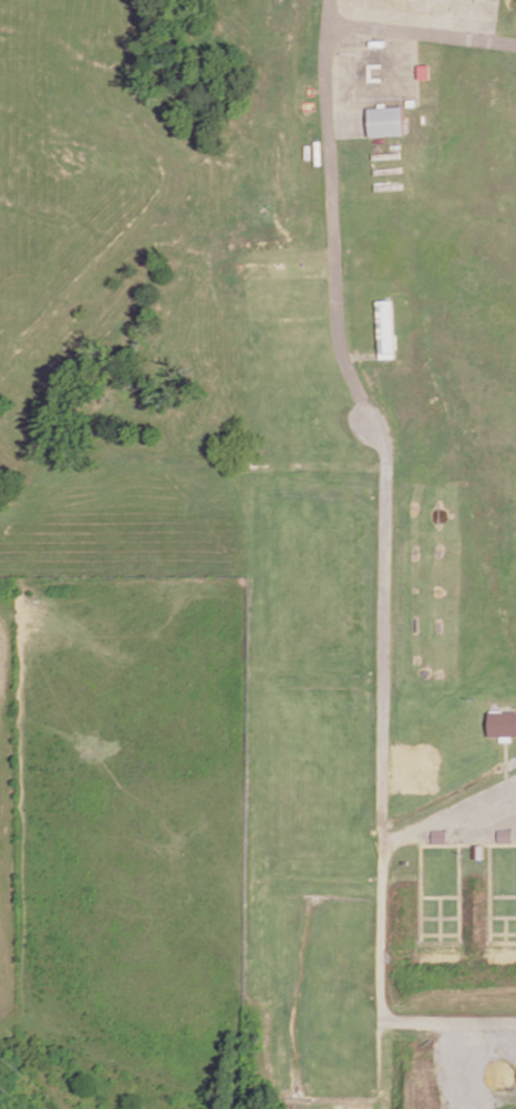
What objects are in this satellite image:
building: (383, 121)
building: (384, 328)
road: (338, 348)
building: (502, 723)
road: (448, 813)
building: (440, 836)
road: (381, 997)

